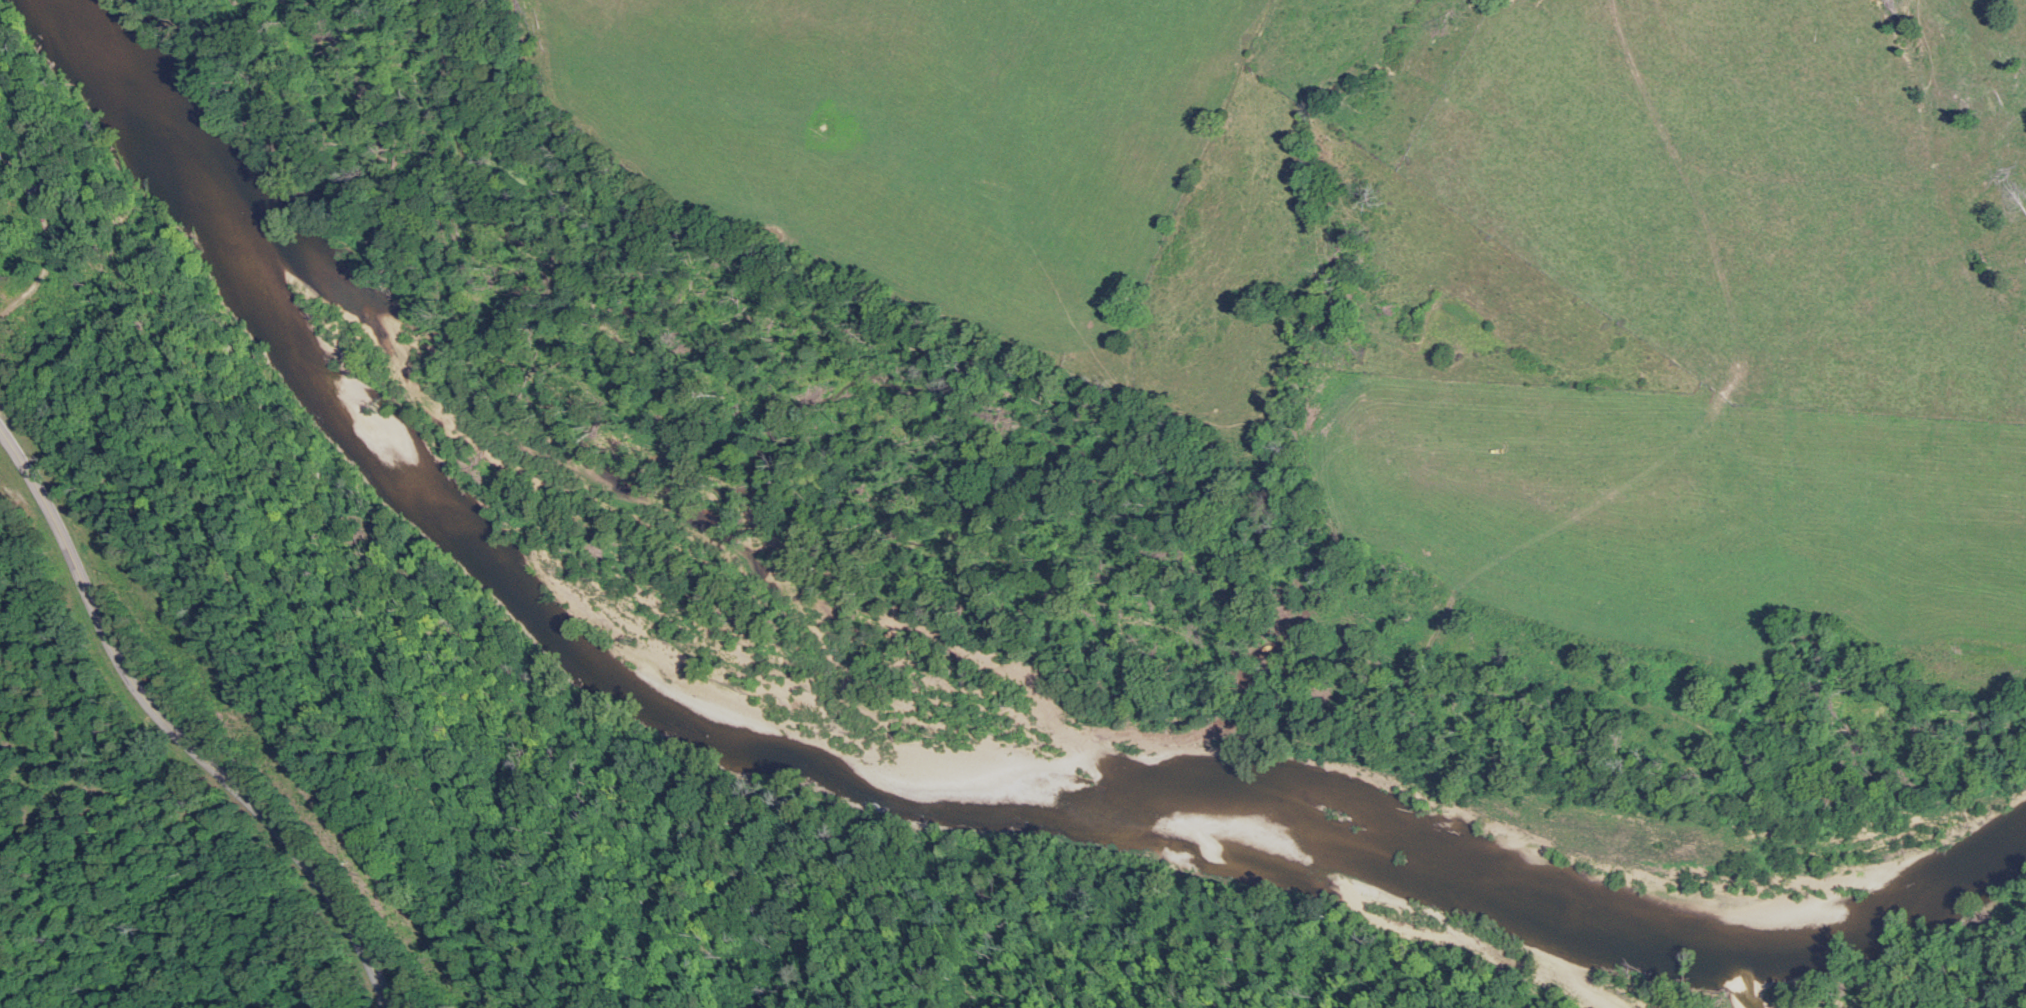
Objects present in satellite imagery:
road: (50, 223)
road: (1, 423)
road: (176, 730)
river: (883, 782)
river: (1594, 958)

